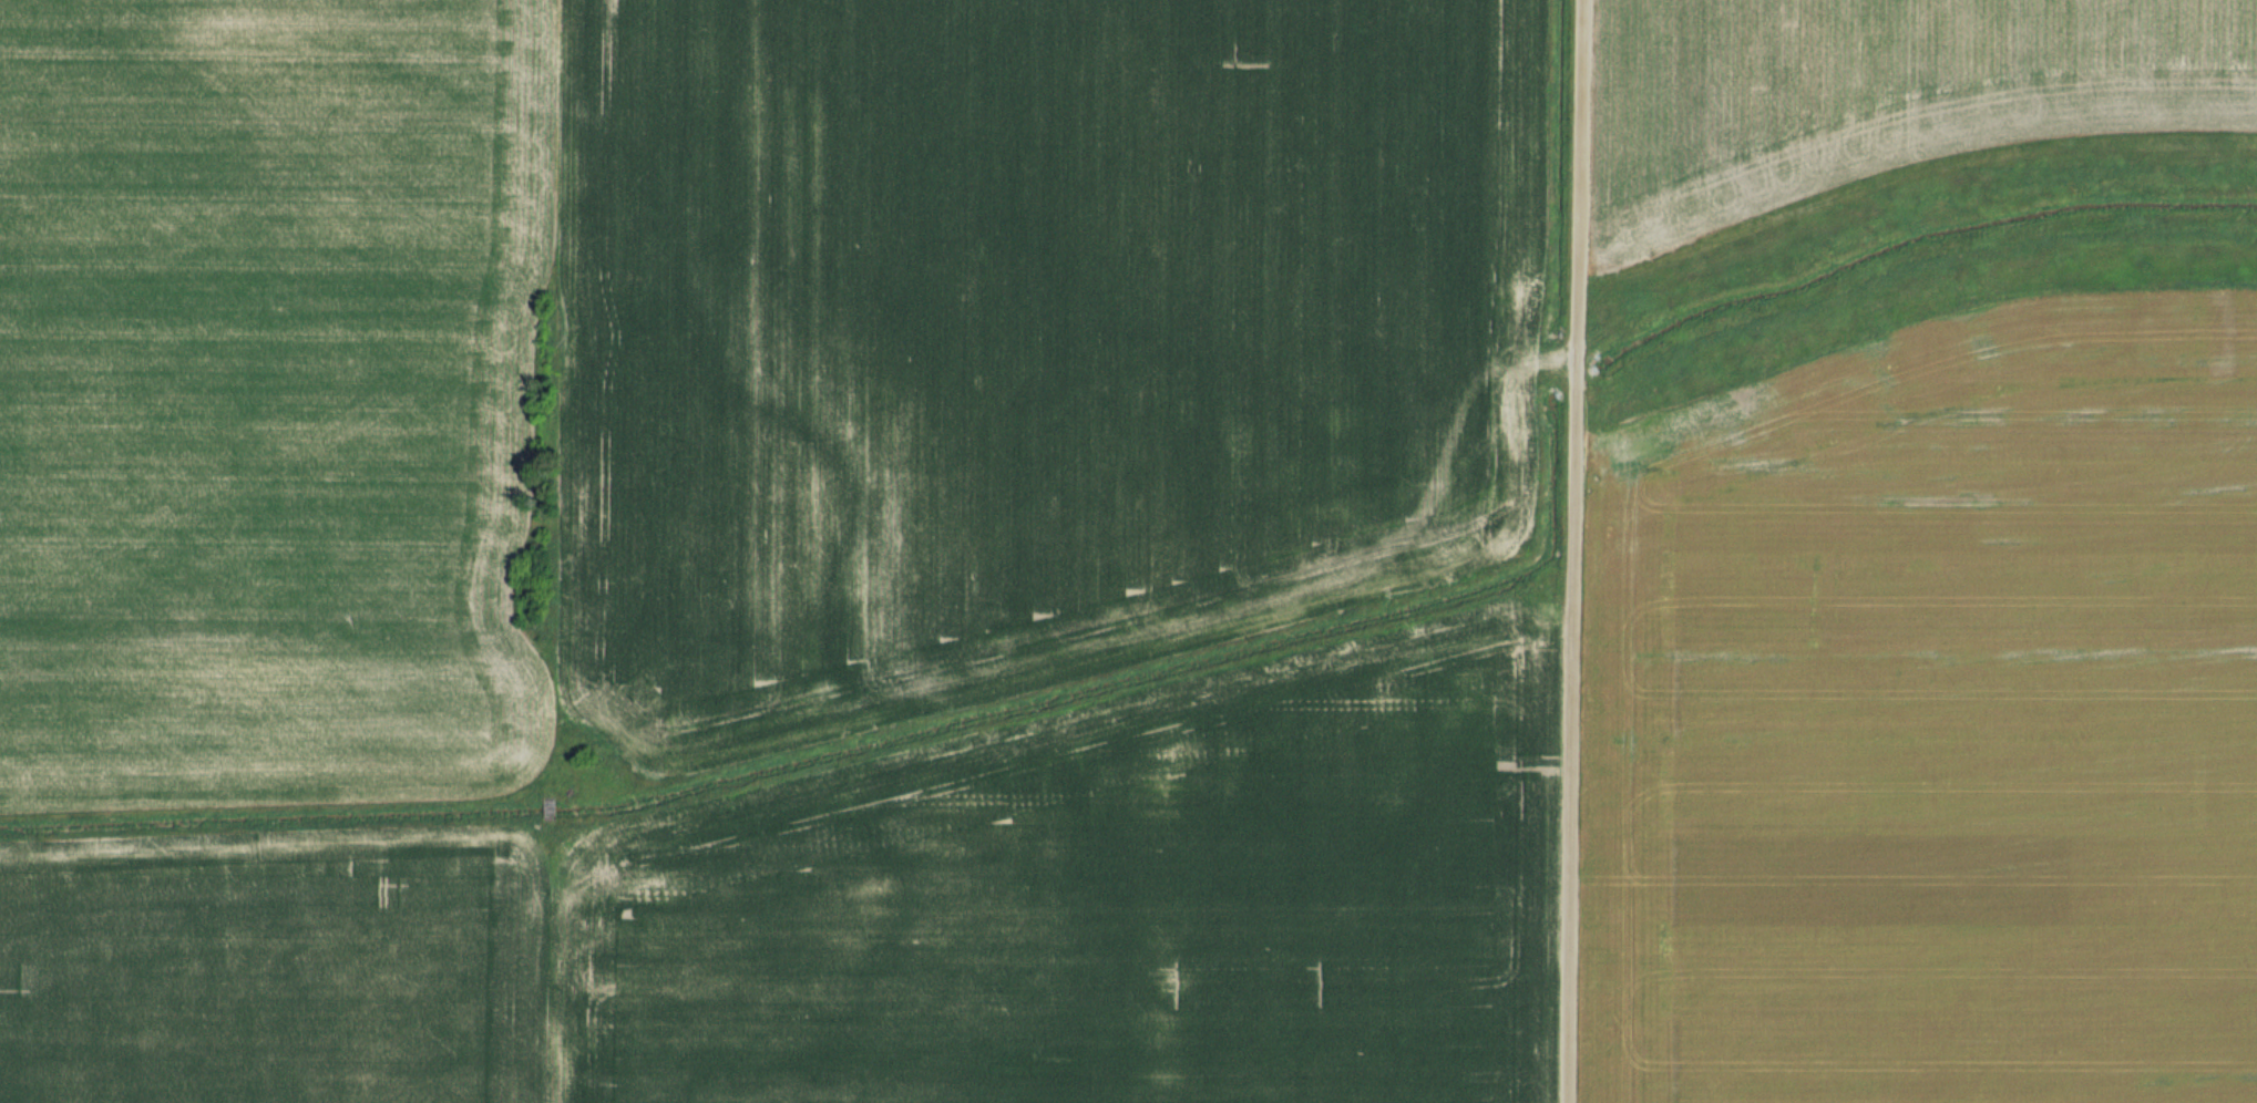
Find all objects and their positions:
road: (1571, 551)

